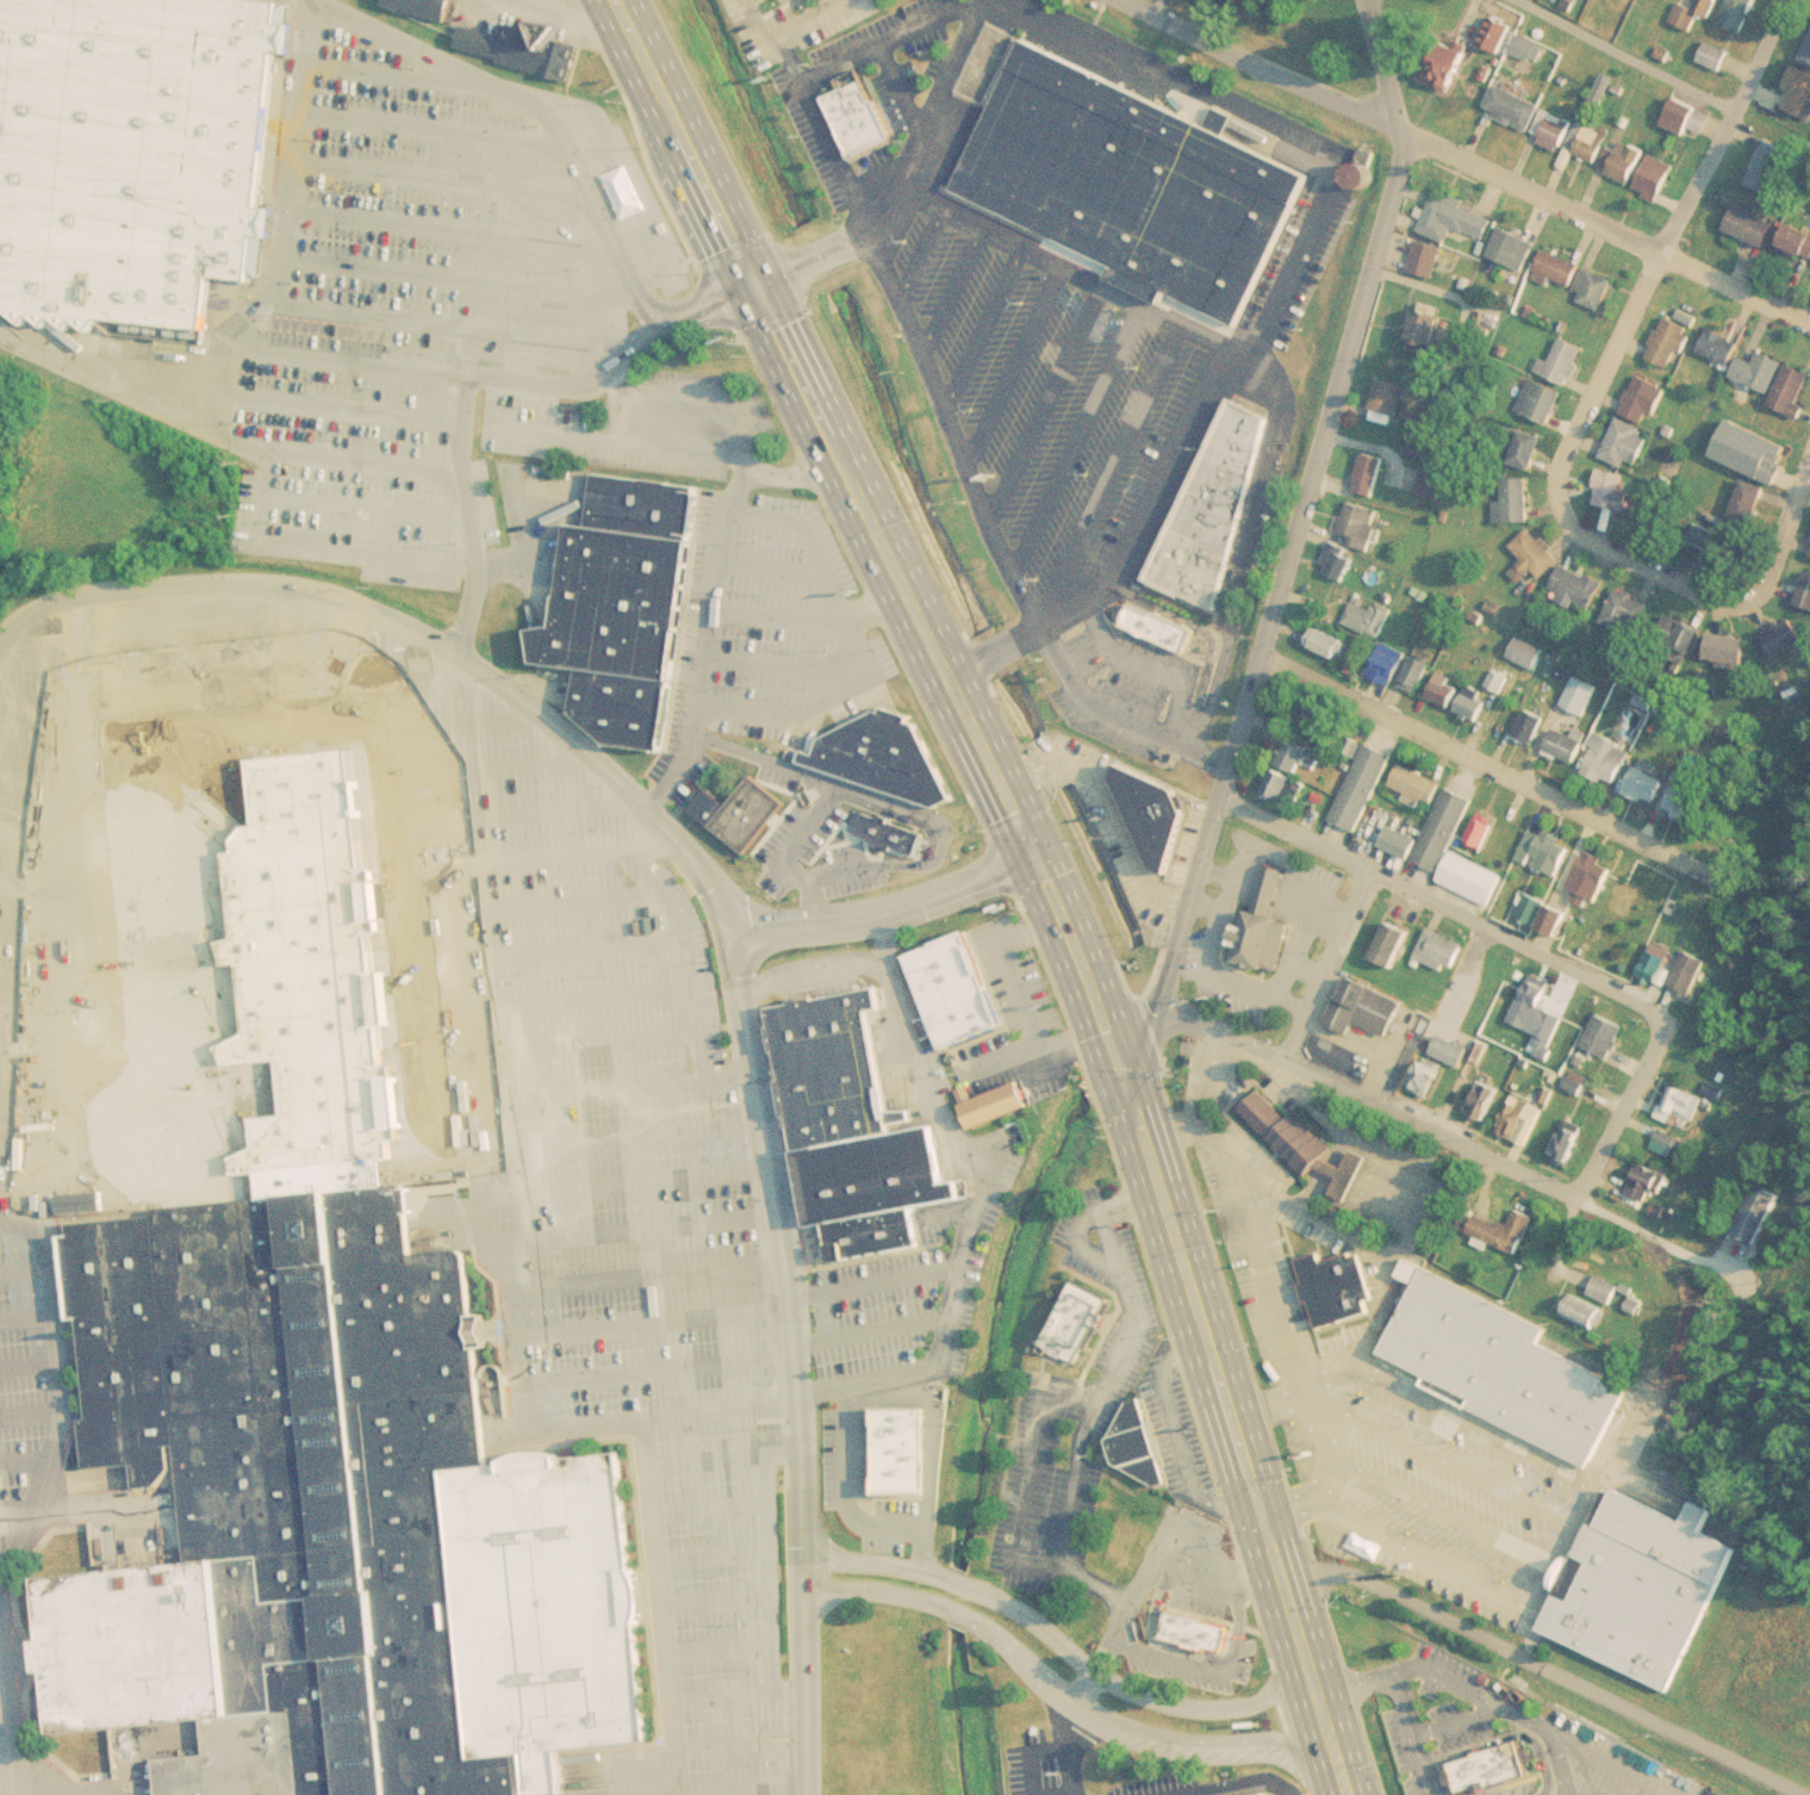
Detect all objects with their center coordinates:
road: (1367, 0)
building: (825, 1)
building: (428, 2)
building: (1694, 12)
building: (1739, 13)
road: (808, 20)
building: (1497, 33)
building: (514, 36)
building: (1526, 46)
road: (873, 48)
building: (1715, 55)
road: (1617, 56)
building: (1808, 56)
building: (1444, 62)
road: (1262, 67)
road: (1385, 67)
road: (393, 74)
building: (1799, 91)
parking lot: (860, 93)
building: (851, 106)
building: (1513, 107)
road: (539, 110)
road: (809, 112)
building: (1683, 116)
road: (425, 128)
building: (1554, 129)
road: (1725, 129)
building: (1590, 142)
building: (124, 148)
building: (1628, 161)
building: (1114, 163)
building: (1769, 167)
building: (1656, 175)
road: (436, 178)
road: (629, 184)
road: (1532, 191)
building: (1455, 217)
building: (1752, 224)
road: (446, 228)
building: (1797, 241)
building: (1513, 248)
building: (1429, 257)
traffic signals: (752, 267)
building: (1560, 267)
parking lot: (406, 275)
road: (455, 279)
building: (1596, 288)
road: (1735, 290)
road: (259, 309)
road: (455, 323)
building: (1428, 330)
building: (1671, 341)
building: (1719, 344)
building: (1567, 360)
road: (1600, 371)
building: (1761, 371)
road: (925, 375)
road: (492, 378)
road: (104, 385)
building: (1792, 391)
building: (1389, 395)
building: (1646, 398)
building: (1542, 400)
building: (1420, 404)
road: (337, 409)
gas station: (678, 417)
parking lot: (1057, 422)
road: (827, 433)
parking lot: (580, 439)
building: (1628, 442)
building: (1524, 448)
building: (1752, 451)
road: (1315, 452)
road: (363, 462)
building: (1369, 473)
building: (1431, 483)
building: (1612, 490)
building: (632, 491)
building: (1206, 498)
building: (1516, 501)
building: (1747, 501)
road: (769, 503)
road: (367, 509)
building: (1361, 524)
road: (1783, 527)
road: (254, 535)
building: (1716, 545)
road: (775, 552)
building: (1535, 555)
building: (1341, 565)
road: (1642, 565)
road: (224, 580)
road: (833, 583)
building: (607, 588)
building: (1576, 588)
road: (871, 591)
building: (1805, 592)
road: (714, 600)
road: (779, 604)
building: (1626, 610)
building: (1153, 614)
building: (1369, 617)
parking lot: (760, 622)
building: (1678, 635)
building: (1784, 639)
building: (1329, 642)
building: (1728, 650)
road: (776, 652)
building: (1528, 652)
building: (1387, 663)
building: (1416, 675)
building: (1499, 681)
building: (1444, 690)
building: (611, 691)
road: (1070, 696)
building: (1582, 696)
road: (783, 701)
building: (1474, 702)
building: (1531, 726)
building: (1567, 745)
building: (883, 757)
building: (1299, 758)
building: (1609, 760)
road: (1489, 765)
road: (615, 776)
building: (1418, 783)
building: (1646, 785)
building: (1362, 787)
building: (1287, 788)
building: (1684, 802)
building: (742, 813)
building: (1146, 815)
building: (1445, 828)
building: (1484, 830)
building: (1400, 841)
building: (1548, 850)
traffic signals: (1040, 865)
building: (1592, 875)
building: (1468, 883)
road: (1439, 901)
building: (1534, 908)
road: (889, 913)
road: (1182, 915)
building: (1555, 920)
building: (1257, 928)
building: (1392, 945)
building: (1442, 949)
road: (1075, 956)
road: (1323, 961)
building: (1655, 965)
road: (1007, 969)
building: (1690, 974)
road: (815, 976)
building: (954, 994)
parking lot: (1007, 1007)
building: (1366, 1008)
building: (1538, 1021)
building: (1605, 1035)
traffic signals: (1112, 1046)
road: (1041, 1051)
building: (1451, 1051)
road: (1200, 1072)
building: (835, 1073)
building: (1428, 1077)
road: (1601, 1098)
building: (1485, 1100)
road: (1622, 1105)
building: (1000, 1106)
building: (1683, 1107)
building: (1516, 1118)
road: (1432, 1129)
road: (1174, 1135)
building: (1569, 1143)
building: (1669, 1143)
building: (1296, 1145)
parking lot: (609, 1166)
building: (877, 1179)
building: (1646, 1185)
road: (1273, 1195)
road: (976, 1200)
building: (1759, 1213)
building: (1504, 1231)
building: (877, 1237)
road: (1259, 1255)
road: (875, 1281)
building: (1605, 1288)
building: (1330, 1290)
parking lot: (889, 1305)
building: (1585, 1311)
road: (872, 1328)
building: (1077, 1328)
road: (1212, 1360)
road: (794, 1362)
building: (1494, 1367)
road: (661, 1369)
road: (1100, 1378)
road: (1330, 1378)
parking lot: (1074, 1402)
parking lot: (1379, 1404)
road: (1467, 1422)
road: (647, 1423)
road: (1318, 1437)
road: (1174, 1442)
building: (1143, 1451)
road: (721, 1458)
road: (1432, 1459)
road: (933, 1471)
road: (1034, 1473)
road: (846, 1482)
road: (710, 1505)
road: (1435, 1509)
building: (335, 1521)
road: (1555, 1540)
road: (1423, 1549)
road: (713, 1555)
building: (1635, 1591)
road: (715, 1600)
building: (1184, 1602)
parking lot: (1223, 1602)
road: (771, 1603)
road: (659, 1610)
road: (1225, 1616)
road: (1112, 1619)
road: (1528, 1627)
road: (1052, 1638)
road: (1548, 1659)
road: (1468, 1683)
road: (1046, 1687)
road: (729, 1694)
road: (1457, 1722)
parking lot: (1442, 1725)
road: (1410, 1733)
road: (1326, 1735)
road: (732, 1741)
parking lot: (1030, 1762)
building: (1486, 1764)
road: (1237, 1783)
road: (735, 1789)

